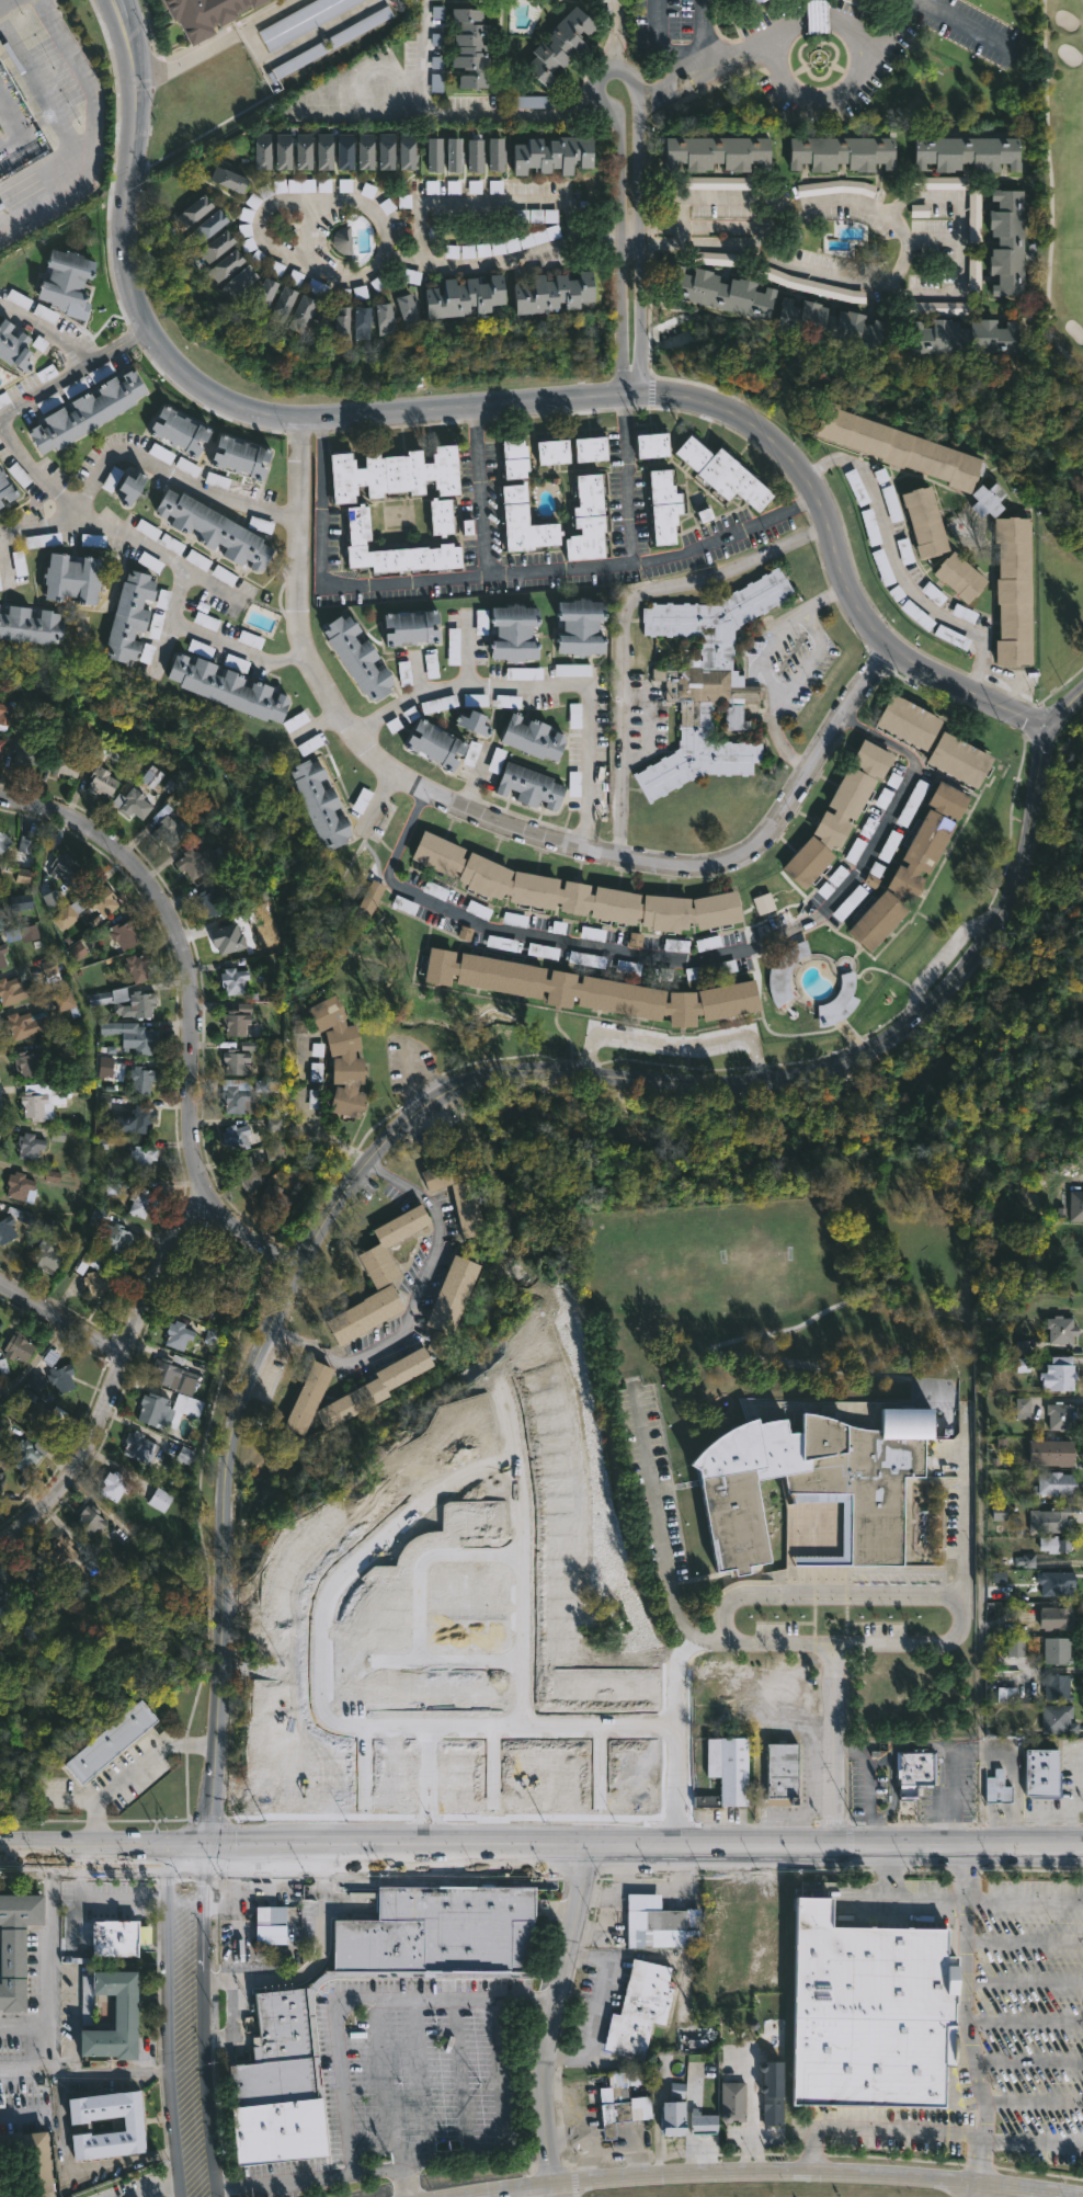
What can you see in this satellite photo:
building: (878, 0)
building: (740, 1)
building: (753, 2)
road: (5, 3)
building: (202, 14)
building: (819, 16)
building: (307, 20)
road: (887, 26)
road: (967, 26)
building: (361, 27)
road: (615, 29)
road: (703, 31)
road: (214, 37)
road: (659, 39)
building: (561, 46)
building: (470, 49)
road: (709, 59)
building: (300, 61)
road: (616, 64)
road: (705, 76)
road: (830, 99)
road: (597, 105)
road: (448, 107)
road: (639, 122)
road: (92, 134)
building: (343, 149)
building: (364, 149)
building: (385, 149)
building: (406, 149)
building: (261, 150)
building: (322, 150)
building: (283, 151)
building: (303, 151)
building: (552, 151)
building: (719, 152)
building: (841, 152)
building: (968, 153)
building: (433, 155)
building: (495, 155)
building: (453, 156)
building: (474, 156)
building: (227, 178)
road: (1051, 191)
road: (722, 192)
road: (481, 197)
park: (1061, 208)
building: (194, 210)
building: (209, 225)
road: (720, 227)
road: (659, 228)
road: (629, 235)
road: (681, 236)
road: (760, 236)
building: (342, 239)
road: (933, 240)
building: (1007, 240)
road: (620, 242)
building: (216, 246)
road: (960, 246)
building: (227, 263)
road: (350, 275)
building: (62, 278)
building: (241, 278)
road: (871, 280)
building: (719, 291)
building: (552, 292)
building: (263, 295)
building: (463, 296)
building: (282, 304)
building: (406, 307)
road: (639, 309)
building: (299, 312)
building: (383, 317)
building: (805, 317)
building: (341, 320)
building: (360, 320)
building: (858, 329)
road: (49, 331)
building: (962, 335)
building: (12, 346)
road: (70, 376)
road: (628, 386)
road: (483, 402)
building: (86, 412)
building: (179, 432)
building: (650, 443)
building: (899, 446)
building: (592, 447)
building: (555, 449)
building: (514, 456)
building: (240, 457)
road: (141, 462)
building: (394, 471)
building: (0, 473)
building: (722, 473)
road: (627, 477)
building: (126, 486)
building: (858, 489)
building: (5, 490)
road: (482, 492)
building: (989, 500)
building: (663, 504)
building: (893, 504)
road: (90, 515)
building: (438, 515)
building: (588, 519)
building: (925, 521)
building: (522, 522)
building: (210, 527)
building: (873, 527)
building: (395, 547)
building: (907, 551)
road: (896, 561)
road: (3, 562)
building: (885, 568)
road: (566, 572)
building: (69, 577)
building: (961, 578)
building: (1016, 590)
park: (1062, 605)
building: (127, 615)
building: (919, 616)
road: (625, 621)
building: (29, 625)
building: (580, 626)
building: (409, 627)
building: (513, 633)
building: (954, 638)
road: (213, 648)
road: (469, 652)
building: (355, 657)
road: (765, 667)
road: (1013, 678)
building: (708, 681)
road: (544, 686)
building: (228, 687)
road: (1062, 708)
building: (4, 713)
building: (736, 717)
building: (911, 720)
building: (470, 722)
building: (532, 737)
building: (433, 744)
building: (1, 745)
building: (26, 752)
building: (961, 758)
building: (65, 764)
building: (102, 781)
building: (529, 786)
building: (321, 802)
building: (135, 804)
building: (840, 815)
road: (504, 824)
building: (168, 826)
building: (3, 840)
building: (196, 864)
building: (64, 865)
building: (913, 866)
building: (0, 883)
building: (574, 890)
building: (371, 898)
building: (213, 901)
building: (851, 904)
building: (87, 907)
building: (0, 924)
building: (30, 934)
building: (125, 934)
building: (228, 940)
road: (183, 950)
building: (2, 955)
road: (685, 958)
building: (137, 966)
building: (787, 972)
building: (232, 980)
building: (591, 988)
building: (14, 990)
building: (66, 1002)
building: (141, 1003)
building: (835, 1003)
building: (236, 1020)
building: (26, 1025)
building: (130, 1035)
road: (674, 1044)
building: (340, 1057)
building: (236, 1062)
building: (29, 1063)
road: (414, 1071)
road: (594, 1074)
building: (140, 1078)
building: (238, 1096)
building: (33, 1105)
road: (308, 1117)
building: (137, 1119)
building: (236, 1137)
building: (29, 1146)
building: (141, 1159)
building: (448, 1170)
building: (248, 1171)
building: (21, 1187)
building: (275, 1198)
building: (141, 1202)
building: (474, 1207)
building: (7, 1229)
road: (252, 1231)
building: (115, 1238)
building: (384, 1244)
building: (46, 1256)
building: (209, 1262)
building: (238, 1277)
building: (98, 1284)
building: (194, 1298)
building: (231, 1301)
building: (452, 1301)
road: (413, 1302)
building: (366, 1314)
road: (58, 1317)
building: (0, 1324)
building: (1, 1329)
building: (1062, 1330)
building: (178, 1335)
building: (215, 1336)
building: (19, 1347)
road: (35, 1361)
road: (109, 1374)
building: (172, 1377)
building: (1060, 1377)
building: (60, 1378)
building: (376, 1388)
building: (305, 1401)
building: (155, 1409)
building: (1061, 1415)
building: (44, 1423)
building: (137, 1446)
building: (1052, 1453)
building: (22, 1454)
building: (1004, 1458)
building: (1057, 1483)
building: (0, 1484)
building: (114, 1485)
building: (817, 1489)
building: (160, 1499)
road: (654, 1515)
road: (961, 1519)
building: (88, 1521)
building: (1050, 1521)
building: (60, 1550)
building: (1060, 1550)
road: (520, 1557)
road: (422, 1558)
building: (35, 1571)
road: (980, 1579)
building: (1056, 1589)
road: (221, 1594)
building: (4, 1604)
road: (958, 1604)
building: (1054, 1618)
building: (1016, 1649)
building: (1058, 1651)
road: (445, 1658)
building: (1058, 1688)
road: (323, 1710)
building: (1059, 1720)
road: (673, 1724)
building: (397, 1726)
building: (109, 1742)
road: (829, 1745)
road: (215, 1757)
road: (127, 1768)
building: (784, 1768)
building: (915, 1769)
building: (728, 1771)
building: (1045, 1775)
road: (423, 1785)
road: (1080, 1786)
building: (999, 1788)
road: (1056, 1814)
road: (540, 1851)
traffic signals: (193, 1852)
road: (238, 1888)
road: (277, 1889)
road: (98, 1901)
road: (904, 1901)
road: (1027, 1902)
building: (270, 1926)
building: (669, 1926)
building: (119, 1937)
building: (15, 1945)
road: (1028, 1946)
road: (49, 1983)
road: (1027, 1983)
road: (360, 2001)
building: (641, 2008)
road: (974, 2015)
building: (124, 2016)
building: (286, 2016)
building: (869, 2016)
road: (552, 2017)
road: (169, 2019)
road: (204, 2023)
road: (1029, 2025)
road: (24, 2028)
road: (1030, 2064)
road: (109, 2070)
building: (709, 2088)
road: (750, 2097)
building: (625, 2101)
building: (732, 2102)
road: (1033, 2104)
building: (773, 2108)
road: (60, 2115)
road: (581, 2115)
building: (674, 2117)
building: (704, 2122)
building: (134, 2127)
road: (931, 2133)
road: (628, 2141)
road: (565, 2143)
road: (743, 2155)
road: (759, 2155)
building: (31, 2160)
road: (125, 2160)
road: (772, 2172)
road: (327, 2174)
road: (974, 2188)
road: (157, 2190)
road: (550, 2190)
building: (0, 2194)

